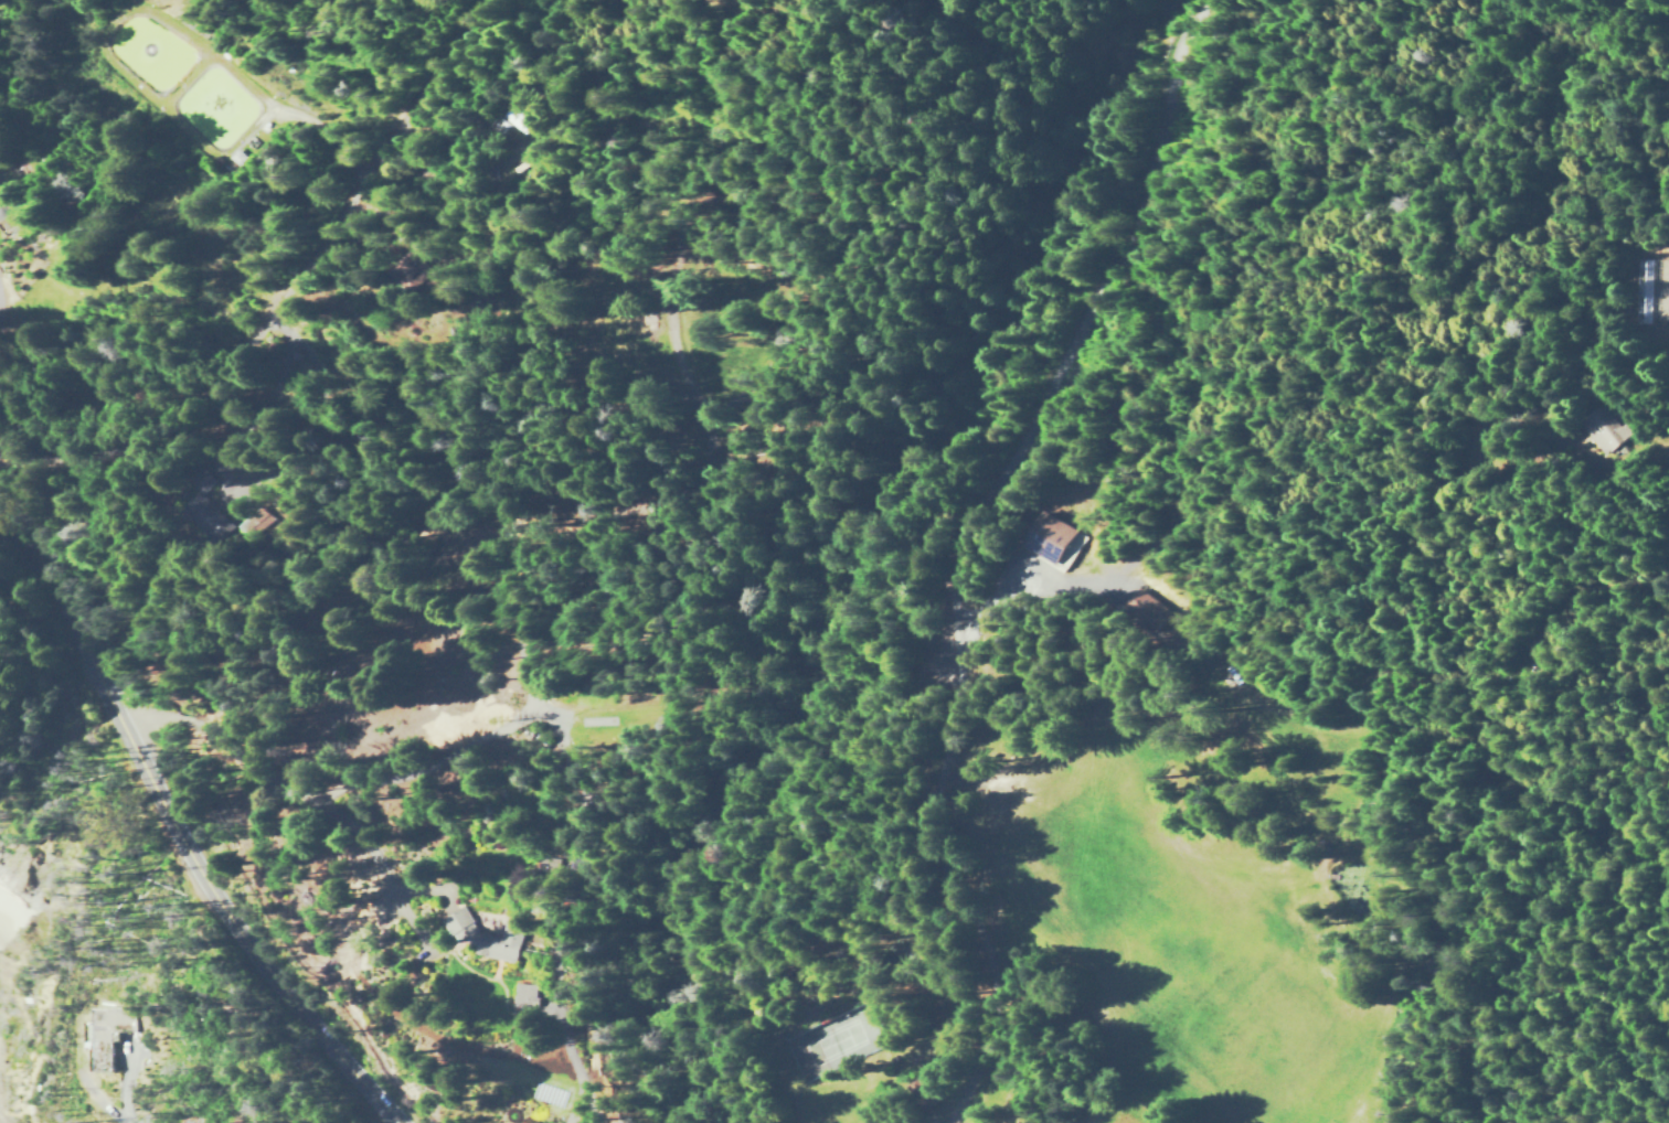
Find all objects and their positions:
road: (284, 277)
building: (1668, 284)
building: (1606, 431)
building: (1048, 535)
road: (306, 821)
road: (185, 837)
building: (486, 935)
building: (525, 994)
building: (111, 1034)

